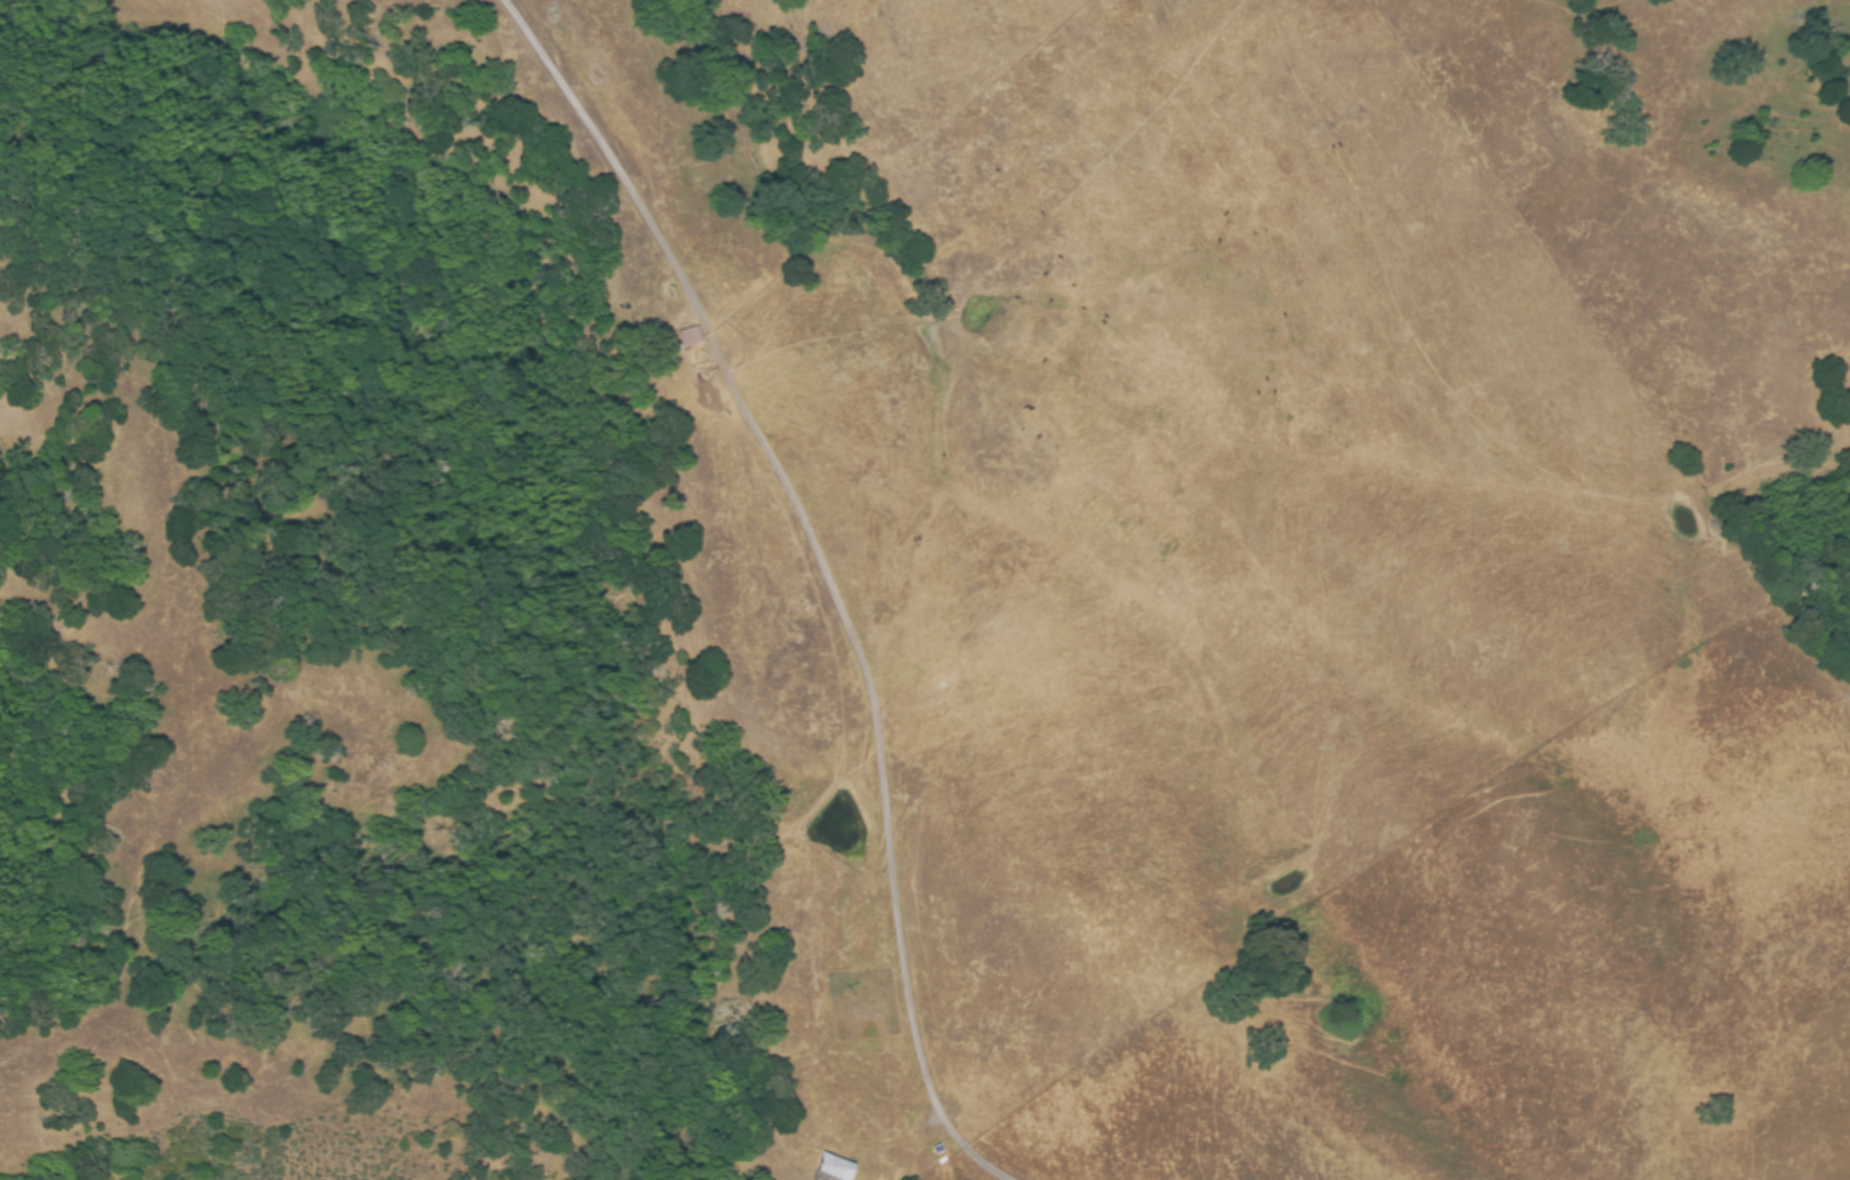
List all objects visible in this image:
building: (827, 1165)

